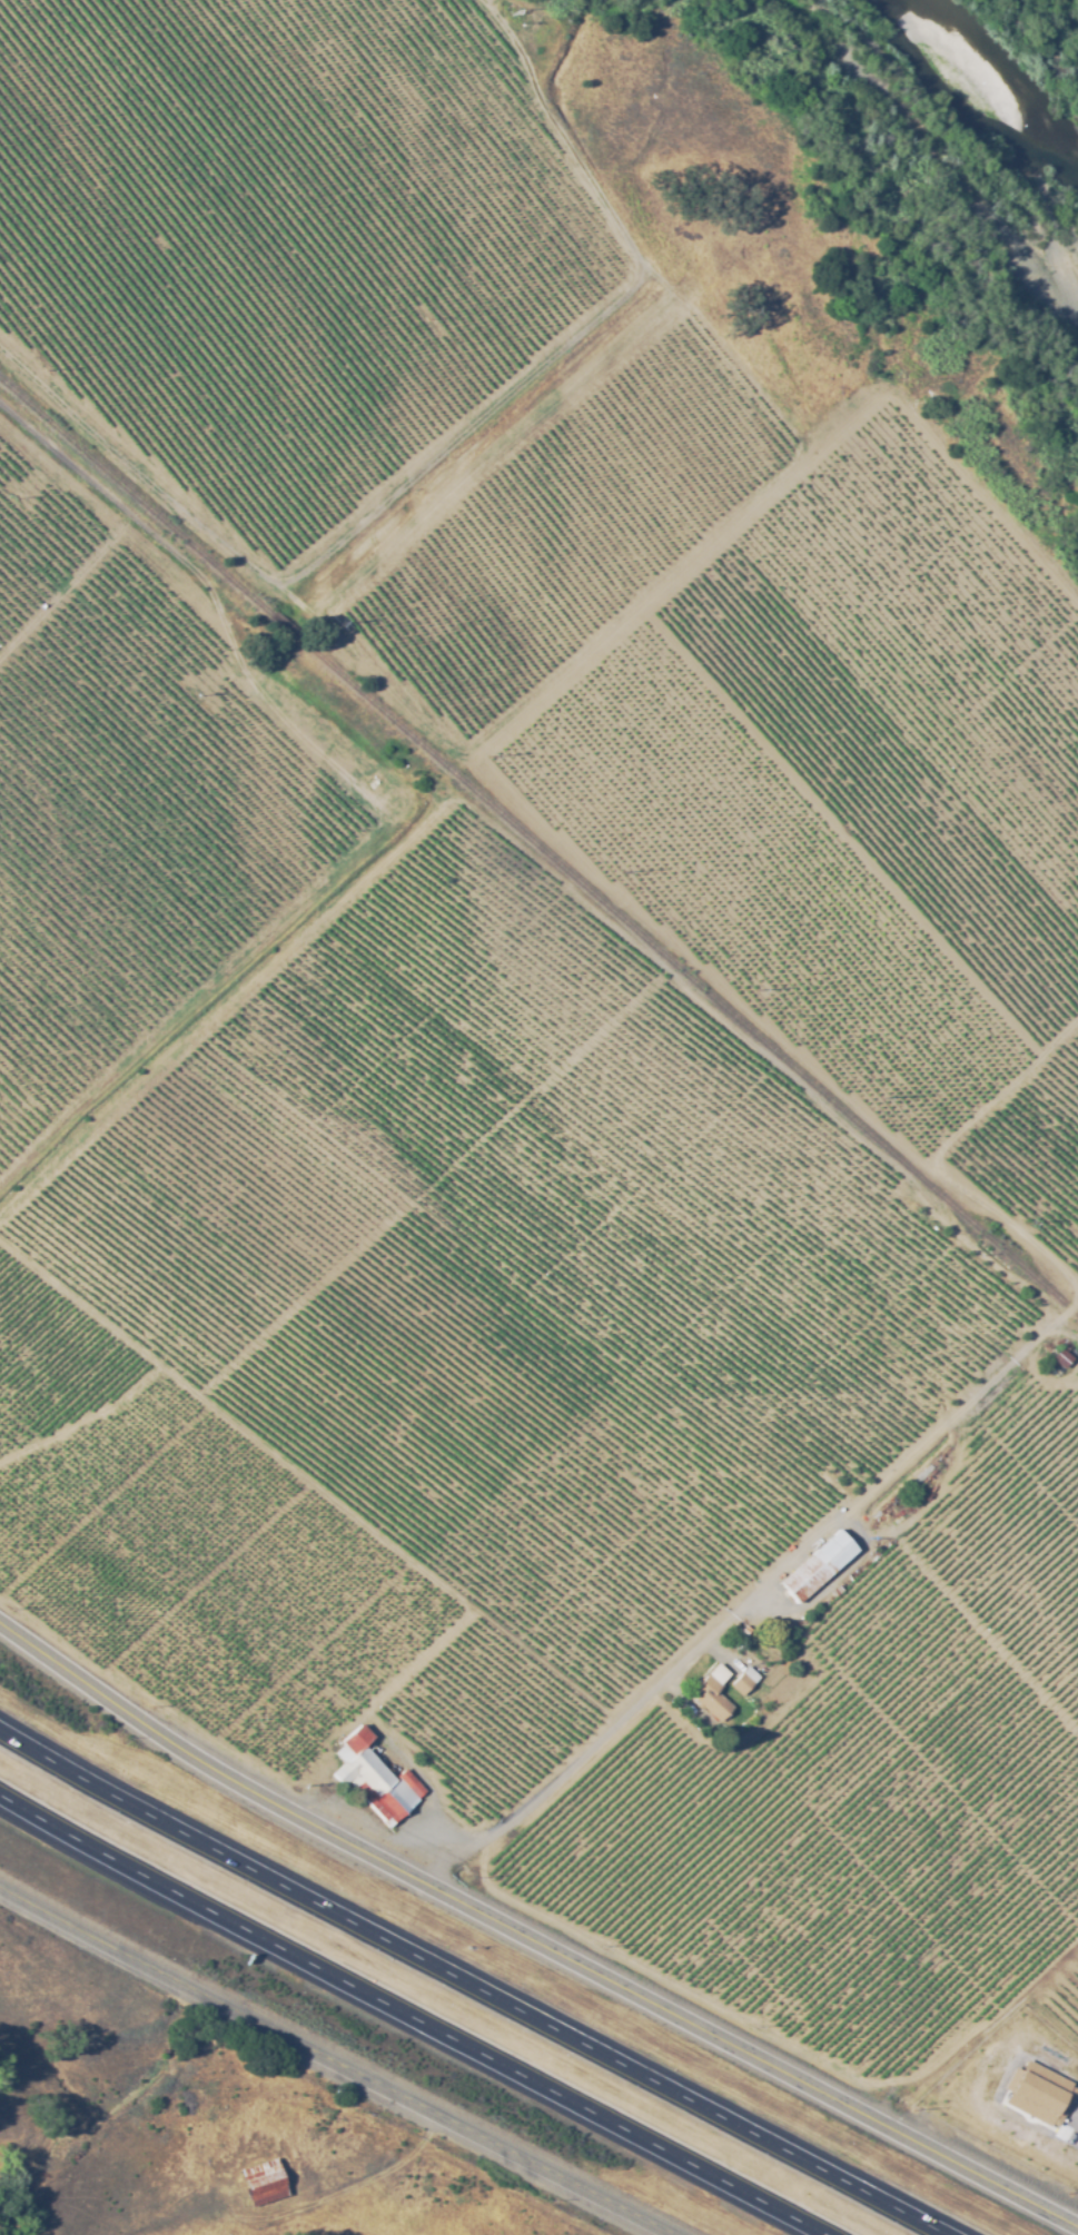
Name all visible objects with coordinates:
river: (943, 131)
railway: (537, 848)
building: (1065, 1362)
building: (813, 1564)
building: (834, 1589)
building: (742, 1681)
building: (710, 1698)
building: (396, 1752)
building: (374, 1781)
road: (531, 1941)
road: (473, 1982)
road: (413, 2015)
road: (333, 2064)
building: (1036, 2091)
building: (261, 2182)

